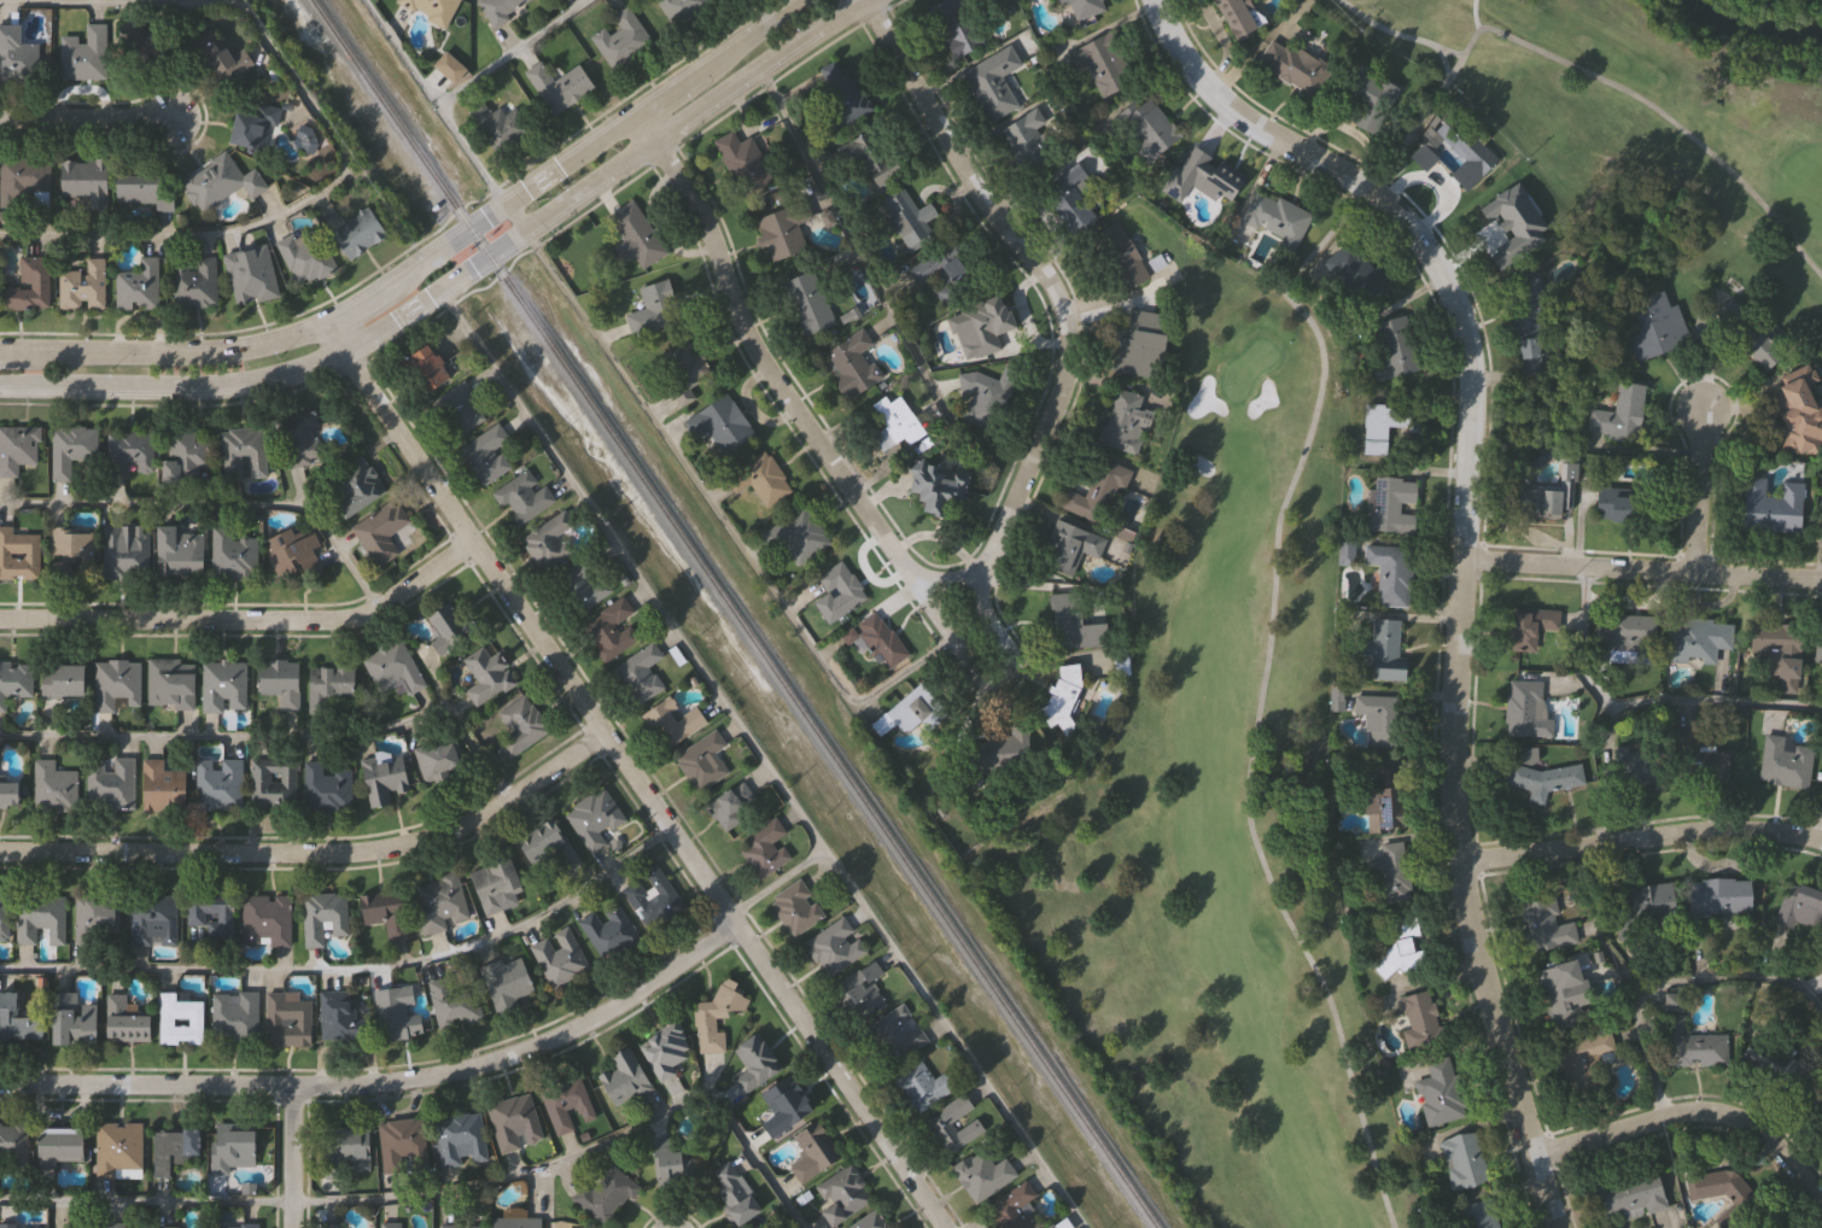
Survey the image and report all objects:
building: (1082, 7)
building: (430, 8)
building: (679, 10)
road: (1474, 16)
building: (1236, 17)
building: (956, 24)
road: (1217, 33)
road: (1397, 35)
building: (619, 40)
building: (147, 46)
road: (513, 52)
building: (16, 54)
building: (82, 54)
building: (218, 57)
road: (1444, 62)
building: (1105, 64)
building: (1293, 66)
building: (992, 83)
building: (556, 86)
building: (839, 93)
building: (1366, 98)
road: (436, 103)
road: (1659, 111)
road: (87, 118)
park: (1647, 118)
building: (497, 125)
building: (251, 127)
building: (1149, 128)
road: (335, 135)
building: (1027, 140)
building: (1464, 152)
building: (872, 156)
building: (744, 162)
building: (1209, 175)
road: (1435, 180)
building: (218, 181)
building: (24, 183)
building: (82, 185)
building: (142, 191)
road: (614, 192)
building: (1067, 199)
building: (906, 217)
building: (1274, 217)
building: (783, 229)
building: (1499, 232)
building: (356, 234)
building: (636, 234)
road: (414, 246)
building: (303, 257)
building: (1121, 257)
road: (432, 258)
building: (942, 271)
building: (1354, 273)
building: (247, 275)
road: (463, 276)
building: (193, 282)
building: (29, 286)
building: (139, 286)
road: (875, 286)
building: (81, 287)
building: (1526, 302)
building: (806, 303)
building: (653, 309)
building: (979, 327)
building: (1652, 327)
road: (340, 334)
building: (1746, 334)
building: (1140, 345)
building: (1392, 349)
building: (1528, 357)
building: (849, 364)
building: (425, 368)
building: (681, 370)
building: (986, 396)
building: (457, 410)
building: (1617, 414)
building: (1797, 414)
building: (1126, 421)
building: (894, 423)
building: (722, 425)
building: (1383, 427)
building: (300, 440)
building: (18, 449)
building: (71, 451)
building: (133, 452)
building: (244, 454)
building: (186, 456)
building: (484, 456)
building: (1566, 472)
building: (758, 479)
building: (350, 487)
building: (936, 487)
road: (1700, 489)
building: (1098, 493)
building: (520, 498)
building: (1544, 501)
road: (212, 504)
building: (1633, 505)
building: (1389, 507)
building: (1769, 508)
road: (420, 511)
road: (722, 517)
building: (378, 533)
building: (800, 536)
building: (547, 542)
building: (1068, 546)
building: (1345, 546)
building: (179, 550)
road: (986, 550)
building: (125, 552)
building: (292, 552)
road: (1465, 552)
building: (17, 555)
building: (70, 555)
building: (233, 556)
road: (1643, 566)
building: (1389, 574)
building: (840, 583)
building: (585, 586)
railway: (737, 614)
road: (1271, 616)
road: (250, 620)
building: (1073, 625)
building: (1528, 627)
building: (449, 628)
building: (611, 628)
building: (1624, 633)
building: (1697, 639)
building: (880, 642)
building: (1817, 644)
building: (1384, 651)
building: (1774, 653)
building: (392, 669)
building: (638, 673)
building: (485, 677)
road: (995, 680)
building: (13, 682)
building: (59, 683)
building: (169, 684)
building: (278, 684)
building: (327, 684)
building: (113, 685)
building: (222, 688)
road: (1639, 701)
building: (1522, 707)
building: (909, 713)
building: (1377, 720)
building: (670, 723)
building: (519, 726)
road: (276, 739)
building: (991, 756)
building: (437, 759)
road: (761, 760)
building: (701, 761)
building: (1783, 764)
building: (1628, 767)
building: (1704, 767)
building: (381, 779)
building: (1542, 780)
building: (217, 784)
building: (109, 785)
building: (271, 785)
building: (160, 788)
building: (325, 788)
building: (52, 789)
road: (642, 790)
building: (7, 794)
building: (1384, 803)
building: (732, 808)
park: (1214, 814)
building: (592, 818)
road: (1645, 838)
building: (543, 849)
building: (764, 850)
road: (316, 854)
building: (1390, 873)
road: (775, 883)
building: (494, 888)
building: (1721, 897)
building: (650, 900)
building: (437, 904)
building: (795, 908)
building: (1641, 908)
building: (1800, 910)
building: (382, 913)
building: (4, 917)
building: (211, 917)
building: (322, 919)
building: (39, 920)
building: (94, 920)
building: (152, 922)
building: (264, 922)
building: (1543, 925)
building: (607, 931)
building: (834, 946)
building: (1398, 949)
building: (557, 959)
road: (351, 970)
road: (1668, 982)
building: (503, 983)
building: (863, 988)
building: (1561, 995)
building: (451, 1000)
building: (395, 1014)
building: (233, 1016)
building: (339, 1016)
building: (714, 1016)
building: (286, 1019)
building: (1418, 1021)
building: (16, 1022)
building: (70, 1022)
building: (179, 1022)
building: (122, 1023)
building: (897, 1034)
building: (1690, 1046)
building: (661, 1052)
building: (757, 1064)
building: (1583, 1064)
building: (626, 1080)
road: (386, 1082)
building: (924, 1086)
building: (1438, 1093)
building: (1818, 1095)
building: (783, 1103)
building: (567, 1106)
road: (1690, 1112)
building: (515, 1121)
building: (1820, 1124)
building: (956, 1125)
building: (462, 1138)
building: (403, 1141)
building: (64, 1142)
building: (234, 1145)
building: (13, 1146)
building: (121, 1146)
building: (177, 1147)
building: (346, 1148)
building: (813, 1154)
road: (291, 1156)
building: (672, 1156)
building: (1461, 1158)
building: (987, 1171)
building: (1716, 1183)
building: (736, 1189)
building: (606, 1192)
building: (845, 1192)
road: (444, 1193)
building: (1627, 1194)
building: (1017, 1206)
building: (1474, 1215)
building: (874, 1220)
building: (518, 1222)
building: (117, 1224)
building: (238, 1224)
building: (392, 1224)
building: (462, 1224)
building: (10, 1226)
building: (171, 1226)
building: (334, 1226)
building: (1773, 1226)
building: (1055, 1227)

